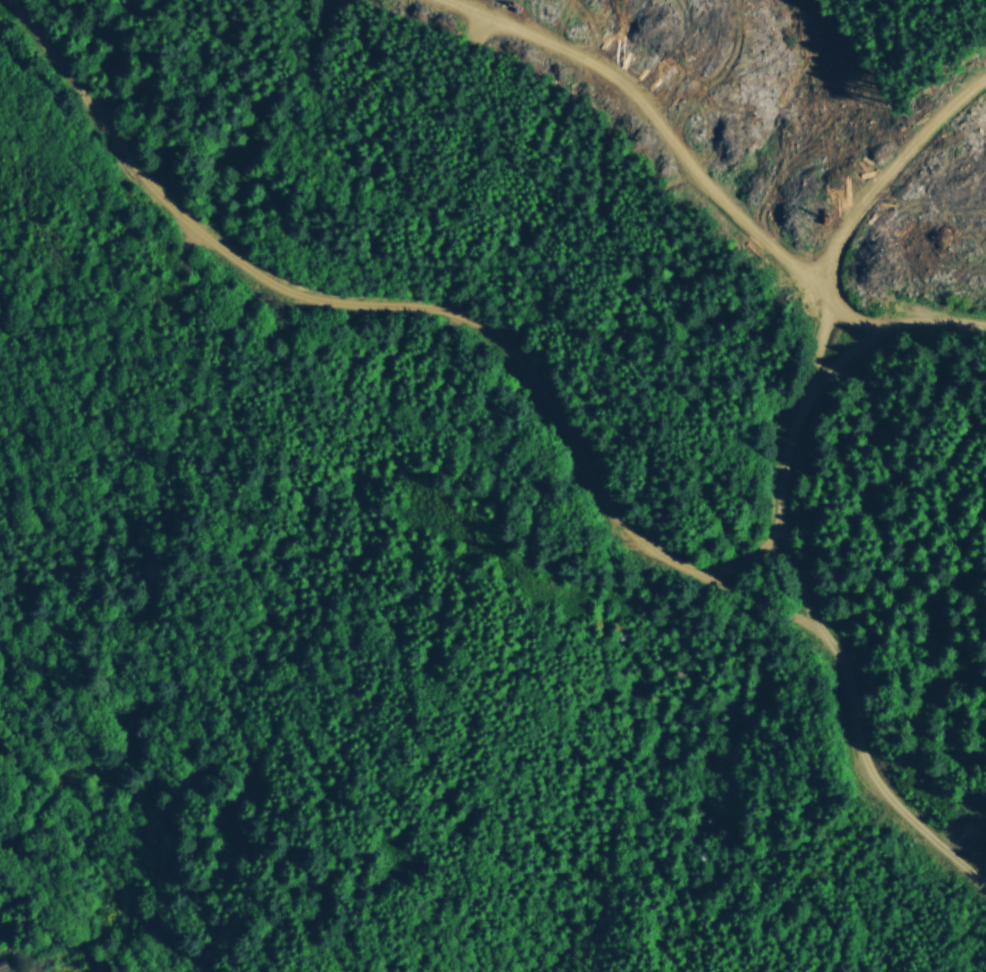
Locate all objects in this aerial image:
road: (858, 184)
road: (421, 305)
road: (791, 562)

